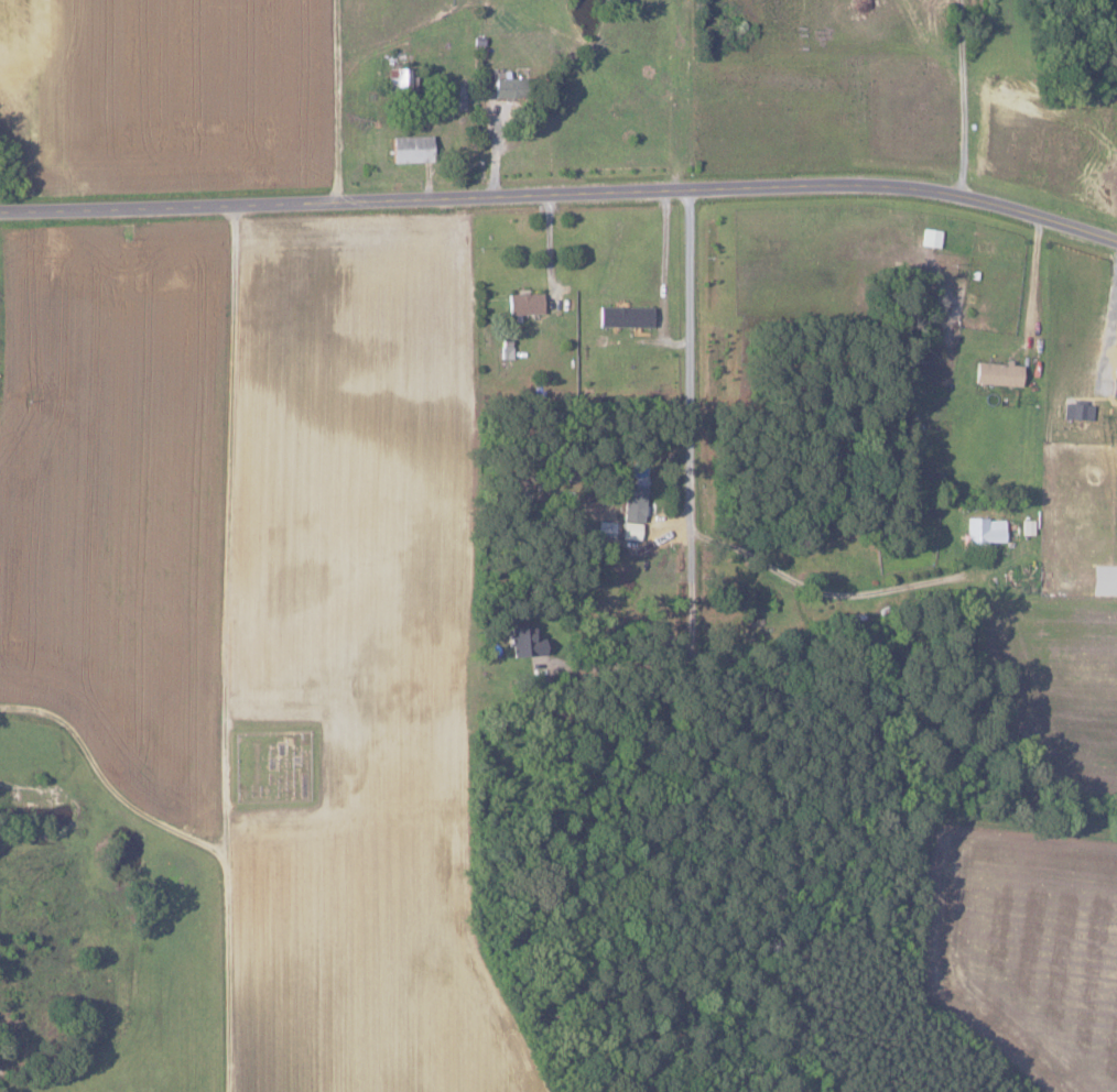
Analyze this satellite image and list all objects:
building: (400, 83)
road: (966, 96)
road: (336, 100)
building: (410, 150)
road: (562, 197)
building: (930, 238)
building: (524, 304)
building: (623, 317)
road: (1108, 331)
building: (997, 374)
building: (1113, 389)
road: (693, 424)
building: (632, 511)
building: (985, 531)
road: (836, 594)
building: (524, 641)
road: (220, 647)
road: (619, 667)
road: (102, 779)

